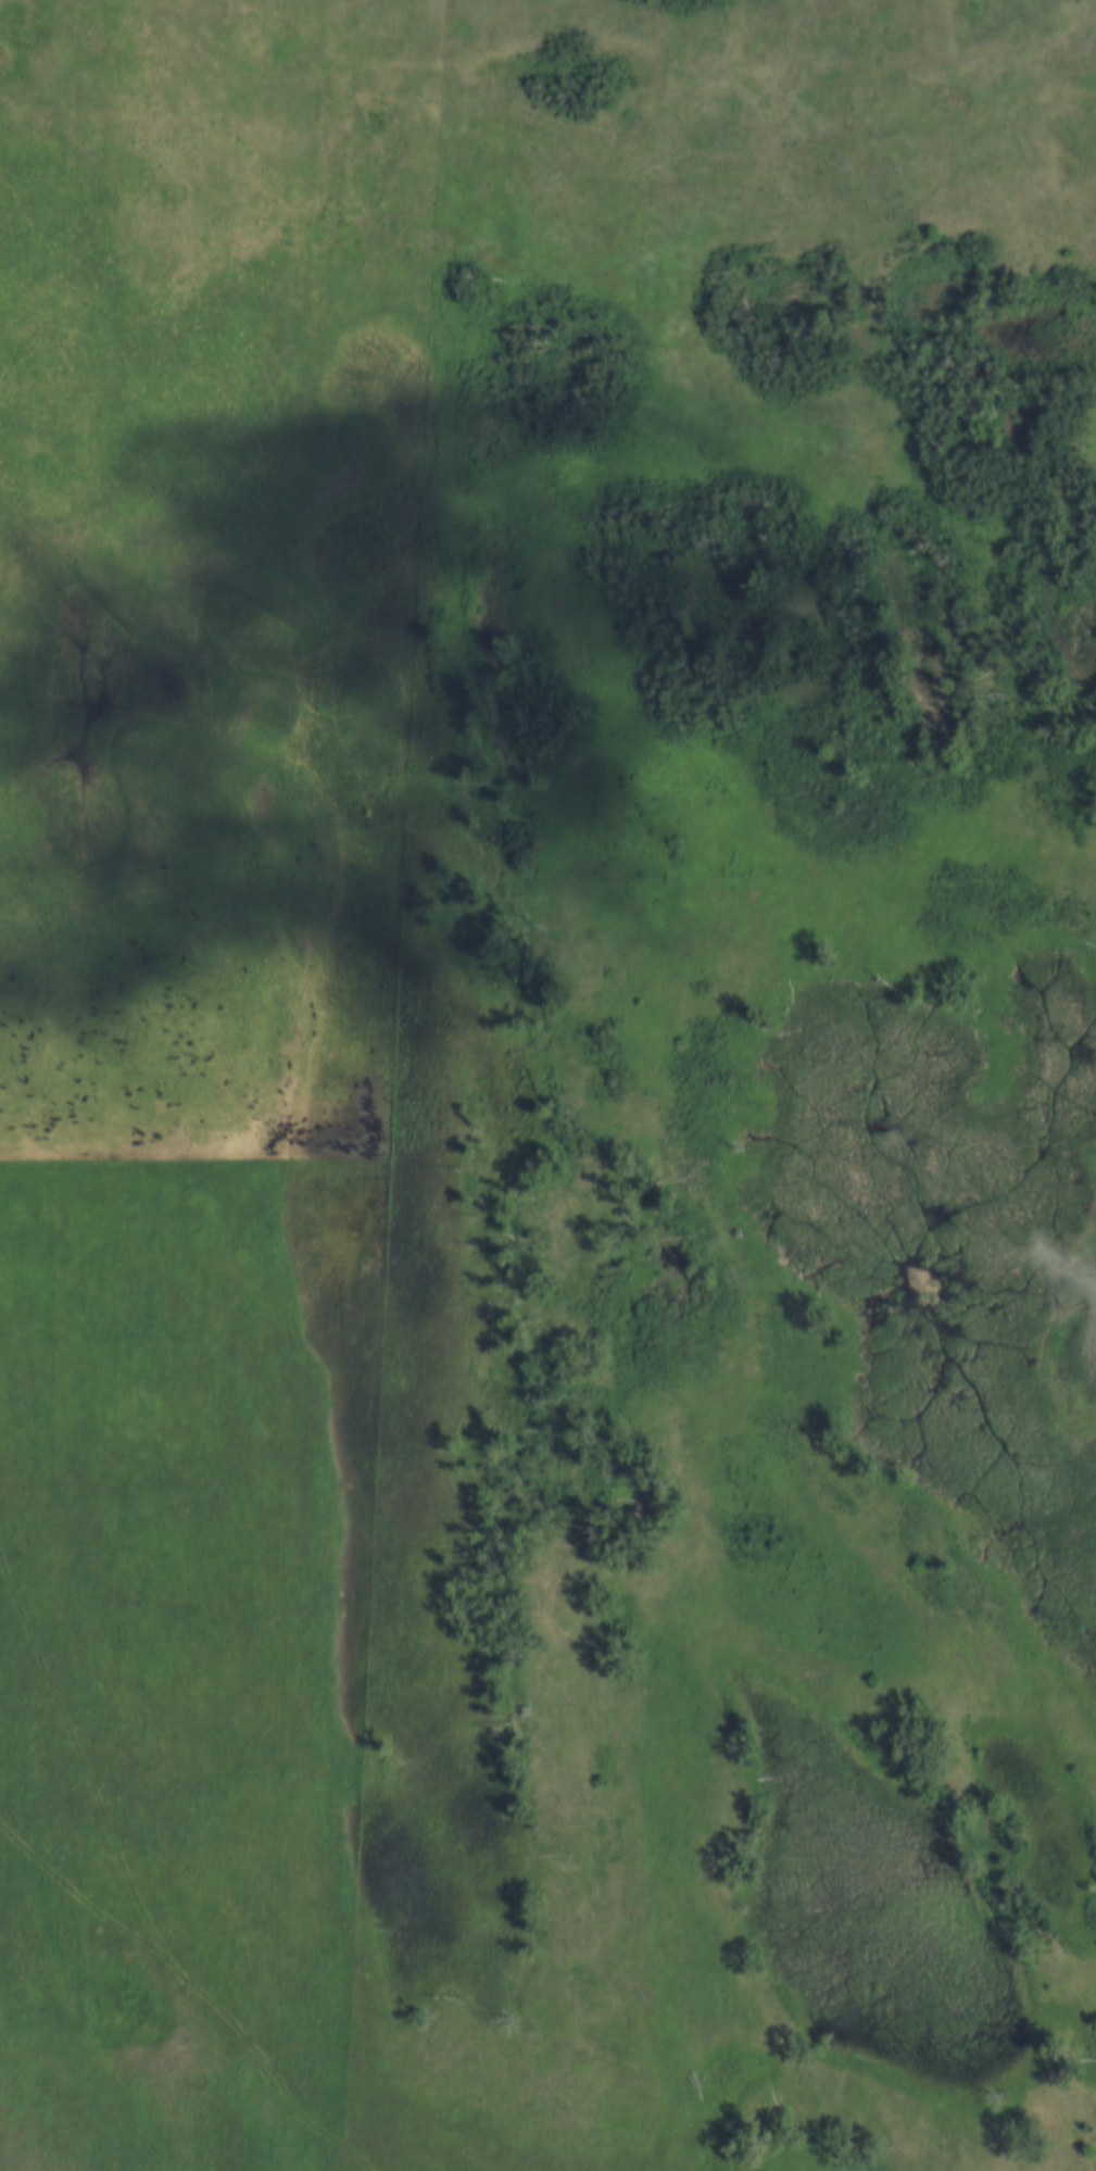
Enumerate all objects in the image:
road: (125, 2025)

